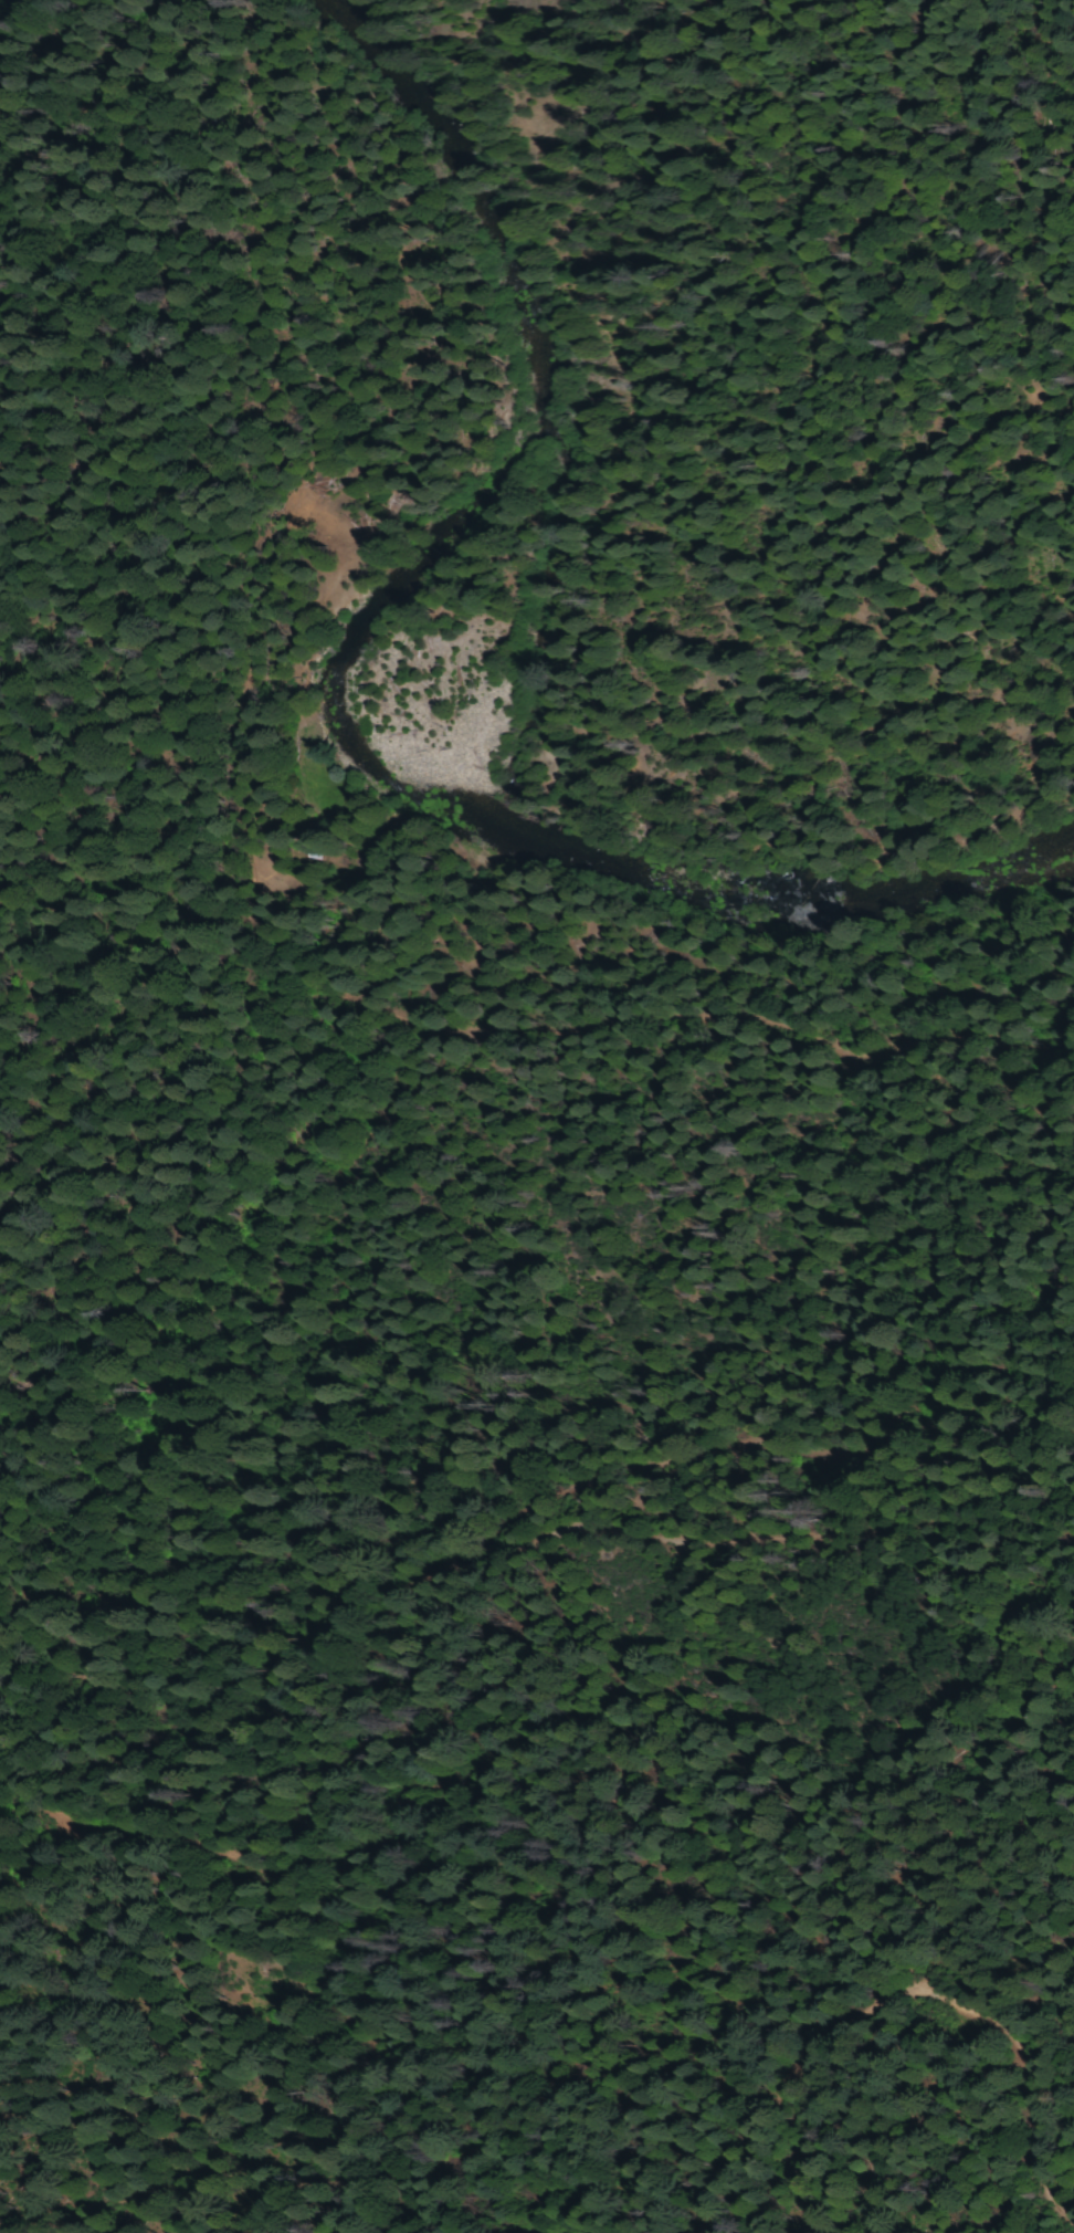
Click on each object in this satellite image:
river: (478, 512)
river: (852, 906)
road: (465, 1608)

